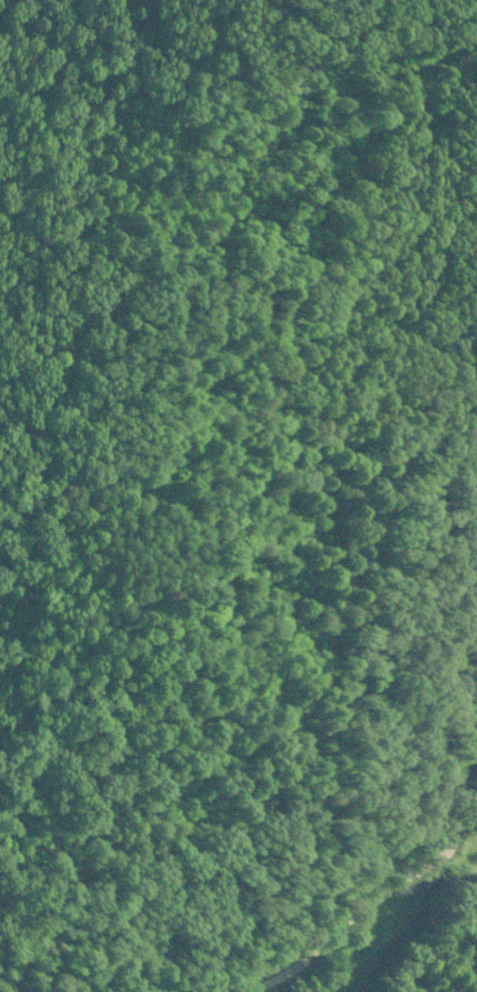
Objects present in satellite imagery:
road: (325, 887)

